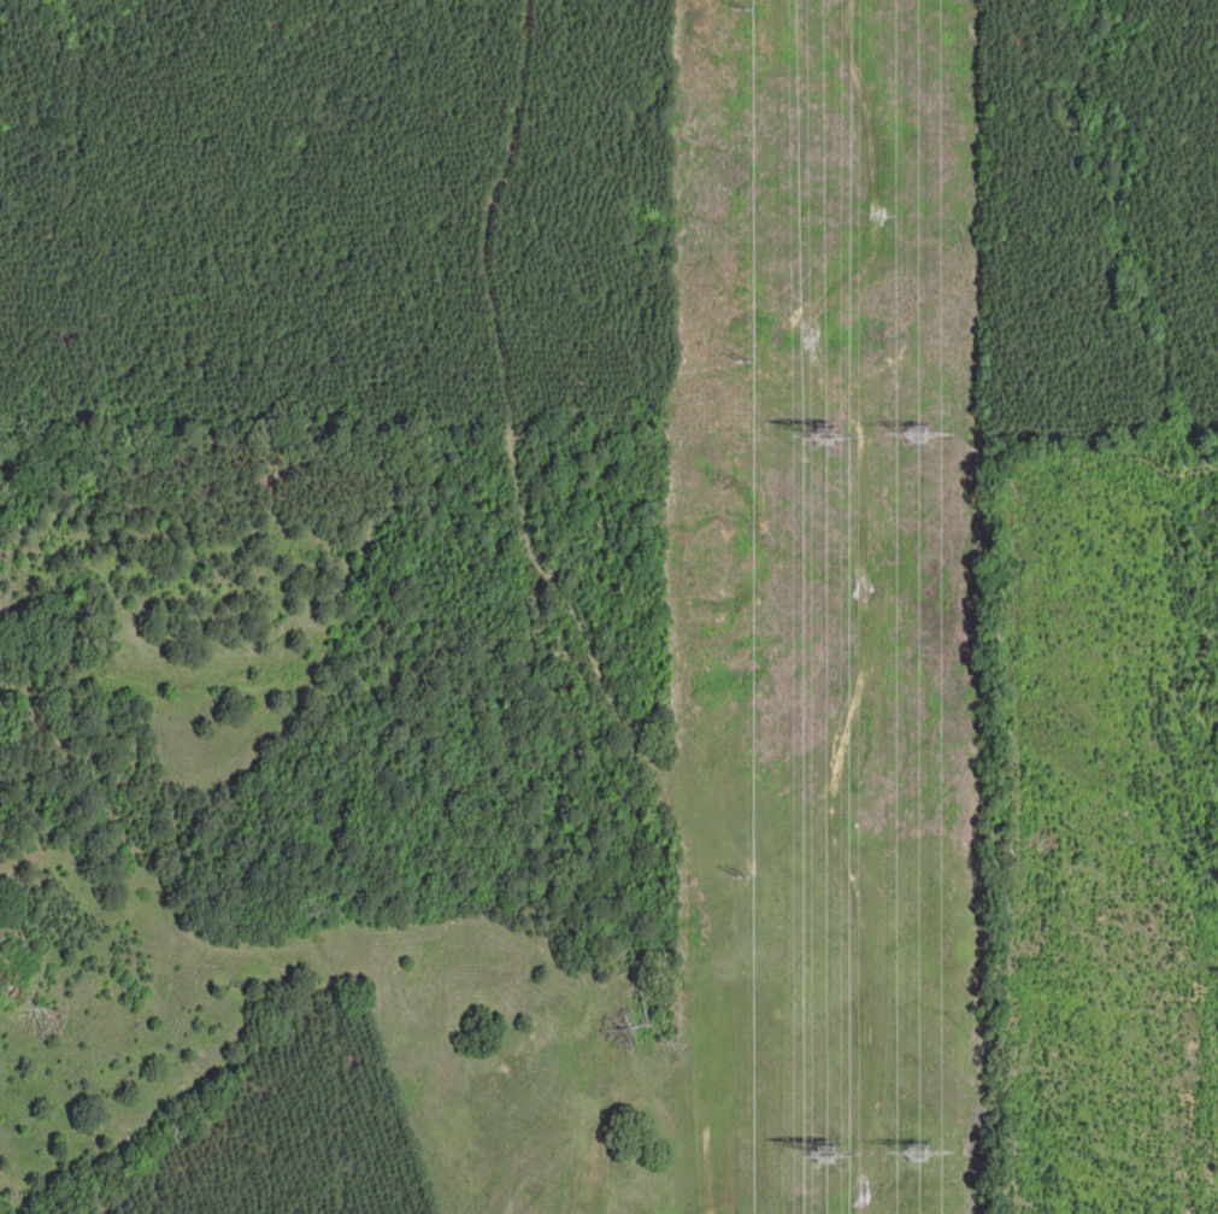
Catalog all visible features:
power tower: (820, 421)
power tower: (911, 424)
power tower: (913, 1140)
power tower: (822, 1145)

